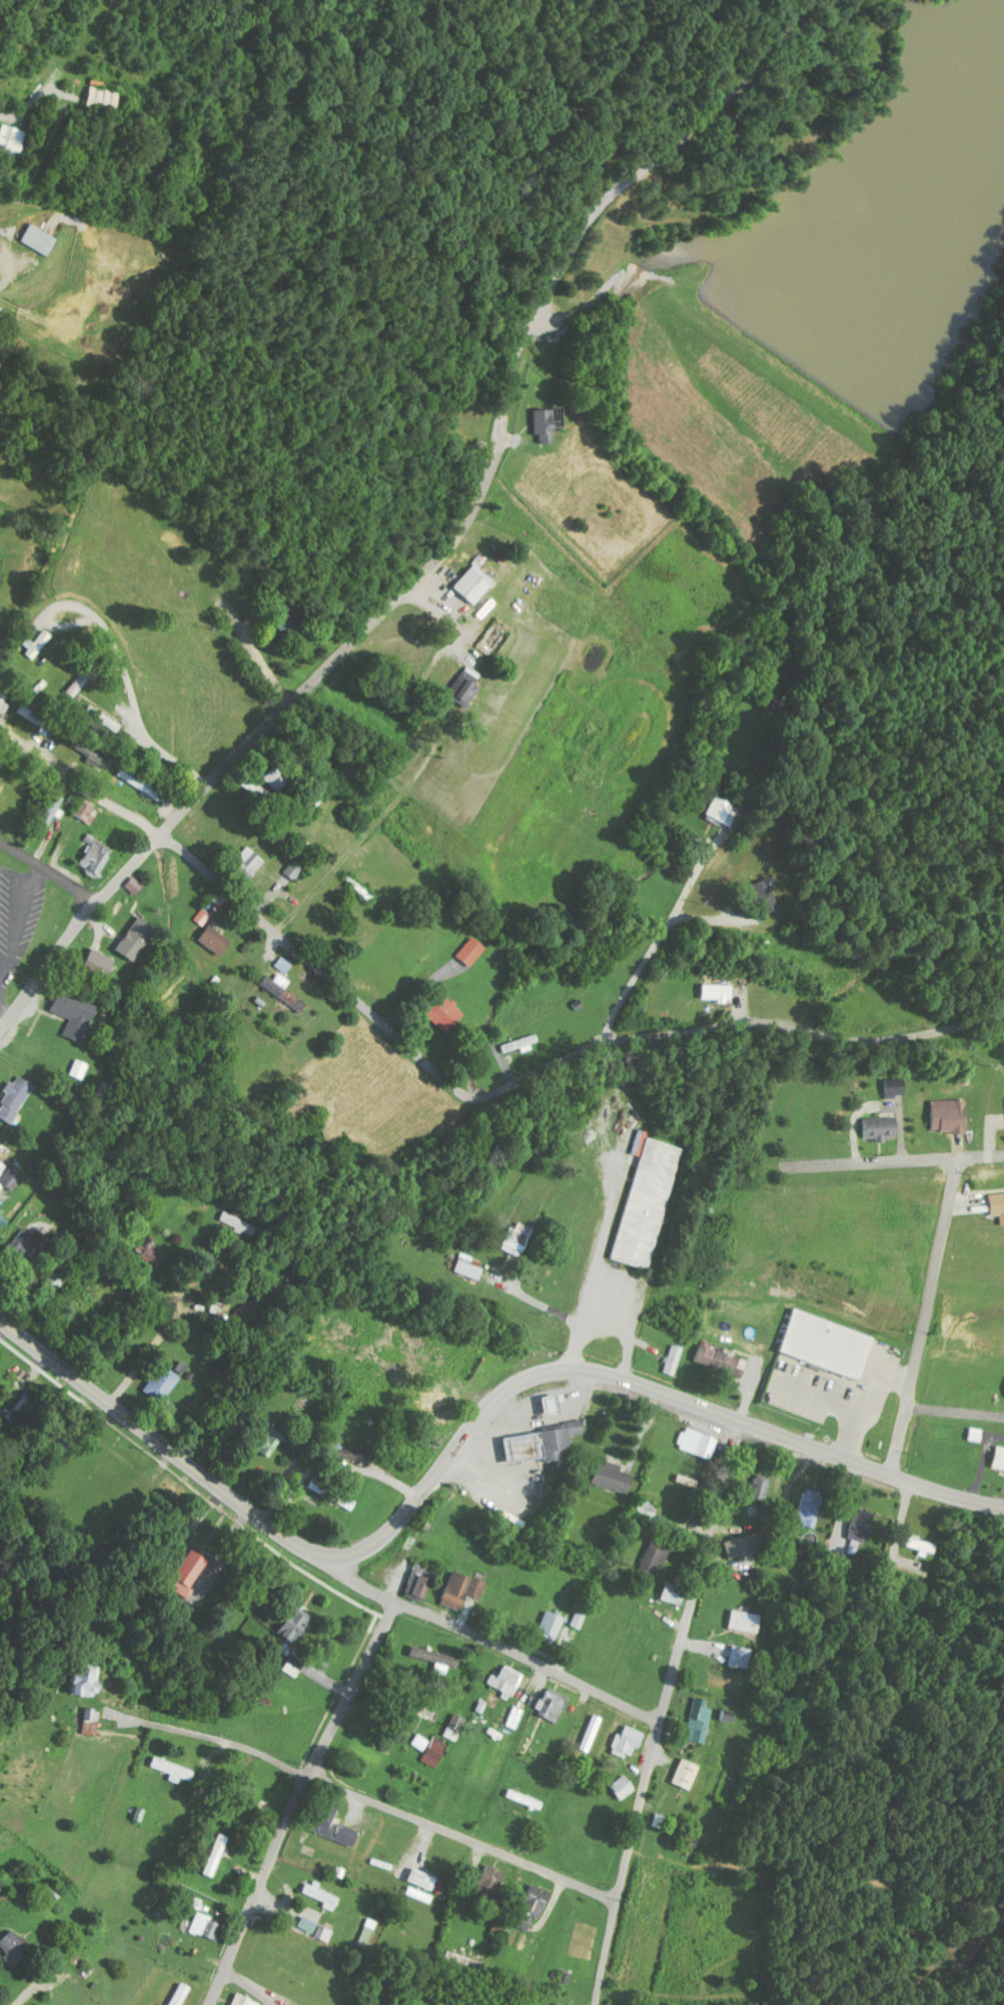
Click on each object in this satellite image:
road: (2, 6)
building: (98, 98)
building: (8, 140)
building: (42, 239)
road: (12, 393)
road: (506, 397)
building: (548, 423)
building: (474, 586)
building: (37, 645)
building: (83, 678)
building: (465, 687)
building: (3, 701)
building: (102, 718)
building: (40, 721)
road: (264, 728)
building: (94, 754)
building: (280, 778)
building: (143, 784)
building: (262, 791)
building: (52, 808)
building: (724, 812)
building: (87, 813)
road: (331, 850)
building: (96, 856)
building: (250, 863)
building: (295, 869)
road: (48, 872)
building: (136, 886)
building: (767, 895)
building: (203, 917)
building: (139, 938)
building: (217, 941)
building: (472, 951)
road: (696, 960)
building: (102, 966)
building: (285, 966)
building: (283, 991)
building: (719, 992)
building: (447, 1014)
building: (76, 1015)
building: (521, 1045)
building: (81, 1069)
road: (454, 1088)
building: (895, 1088)
building: (17, 1099)
building: (882, 1128)
road: (897, 1158)
building: (10, 1176)
building: (647, 1201)
building: (998, 1205)
building: (238, 1224)
building: (519, 1240)
building: (19, 1250)
building: (155, 1254)
road: (595, 1268)
building: (468, 1270)
building: (51, 1282)
road: (538, 1296)
road: (926, 1316)
road: (165, 1322)
building: (673, 1360)
building: (722, 1361)
building: (836, 1368)
road: (623, 1379)
building: (433, 1411)
road: (149, 1435)
building: (269, 1440)
building: (699, 1443)
building: (542, 1445)
building: (1000, 1459)
road: (384, 1478)
building: (616, 1478)
building: (689, 1482)
road: (286, 1487)
building: (760, 1489)
building: (809, 1507)
building: (647, 1510)
building: (866, 1525)
building: (747, 1545)
building: (920, 1546)
building: (658, 1552)
building: (194, 1568)
building: (421, 1582)
building: (465, 1590)
building: (676, 1594)
building: (744, 1622)
building: (297, 1626)
building: (556, 1628)
road: (477, 1638)
building: (738, 1657)
building: (437, 1659)
building: (508, 1681)
building: (88, 1682)
building: (553, 1704)
road: (663, 1711)
building: (516, 1718)
building: (700, 1721)
building: (93, 1722)
building: (456, 1727)
building: (627, 1742)
building: (421, 1743)
building: (436, 1752)
building: (174, 1770)
building: (687, 1775)
building: (623, 1787)
road: (295, 1801)
road: (373, 1803)
building: (660, 1821)
building: (331, 1825)
building: (219, 1856)
building: (424, 1880)
building: (491, 1884)
building: (322, 1896)
building: (532, 1906)
building: (208, 1927)
building: (318, 1929)
building: (16, 1948)
building: (175, 1994)
building: (240, 2001)
building: (38, 2004)
building: (551, 2004)

